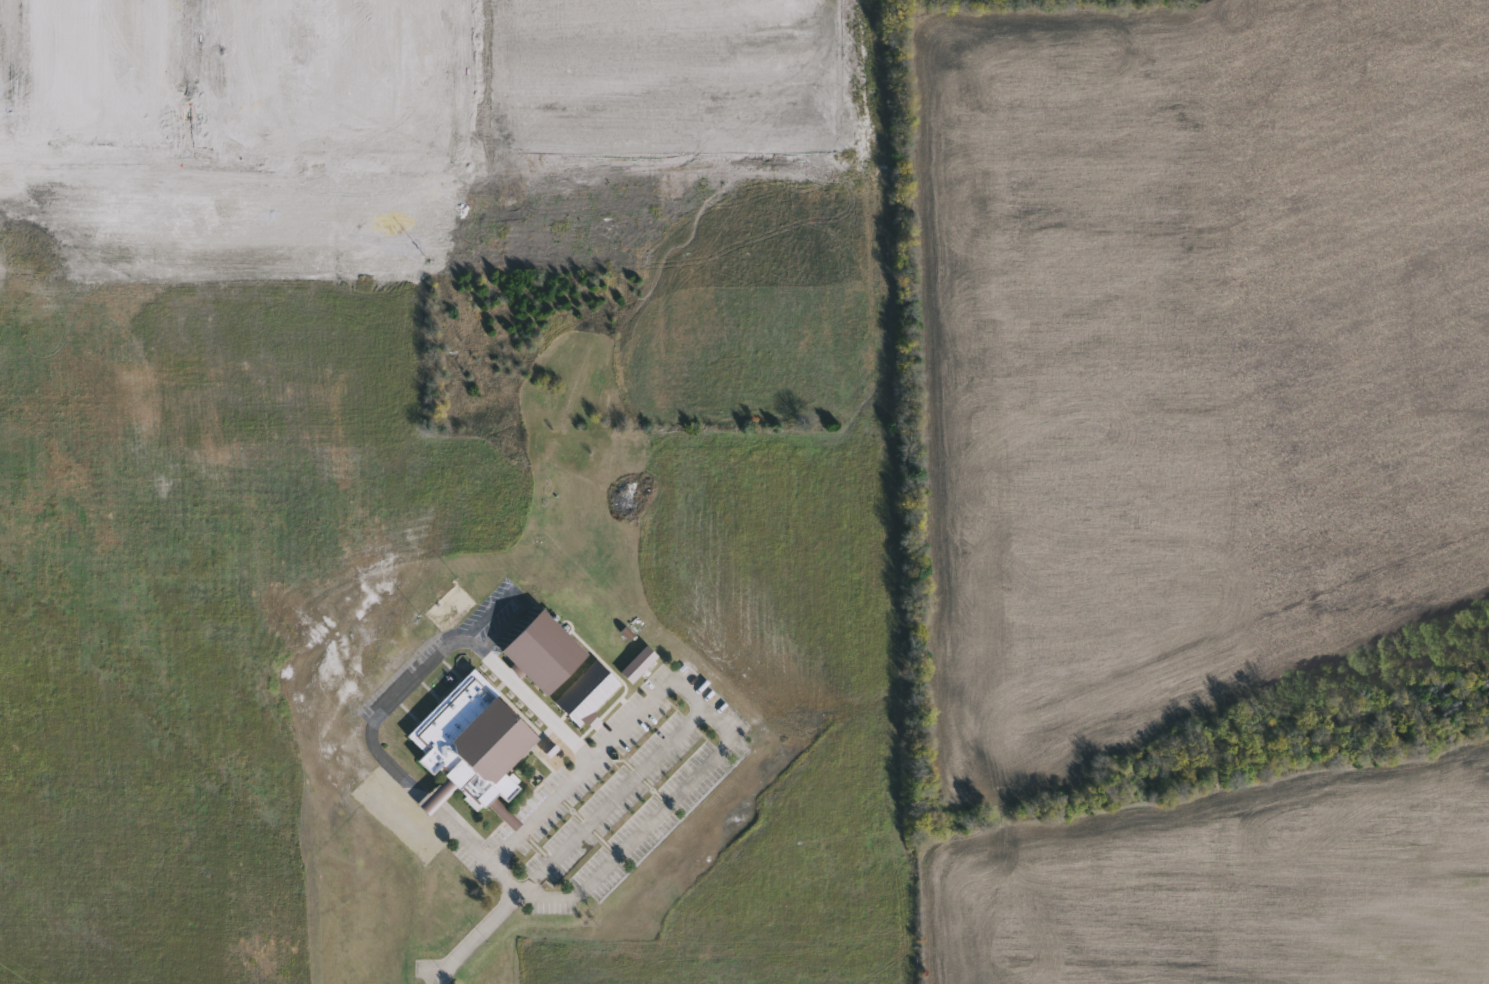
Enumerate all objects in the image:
road: (911, 525)
road: (515, 593)
parking lot: (456, 646)
building: (543, 650)
building: (638, 662)
road: (411, 681)
building: (588, 689)
building: (568, 711)
road: (642, 711)
building: (589, 716)
building: (473, 739)
building: (548, 749)
parking lot: (601, 753)
building: (437, 794)
parking lot: (616, 796)
road: (611, 801)
parking lot: (665, 803)
building: (504, 812)
parking lot: (424, 821)
road: (651, 824)
road: (520, 834)
parking lot: (553, 902)
road: (475, 937)

